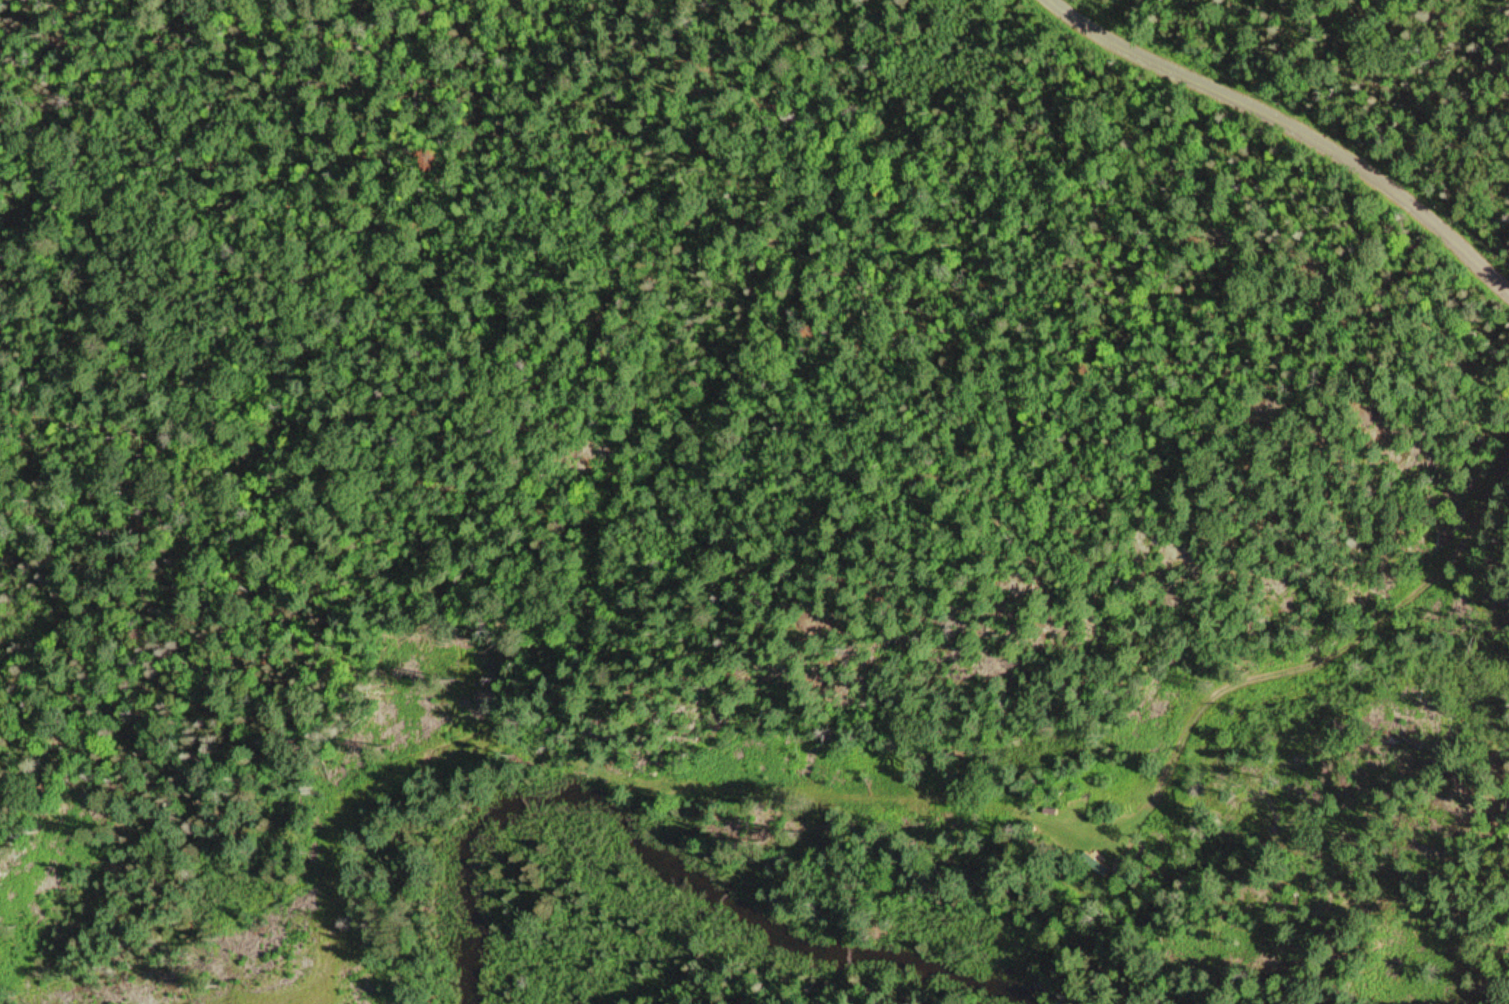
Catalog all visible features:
road: (1293, 131)
road: (1383, 631)
building: (1095, 864)

